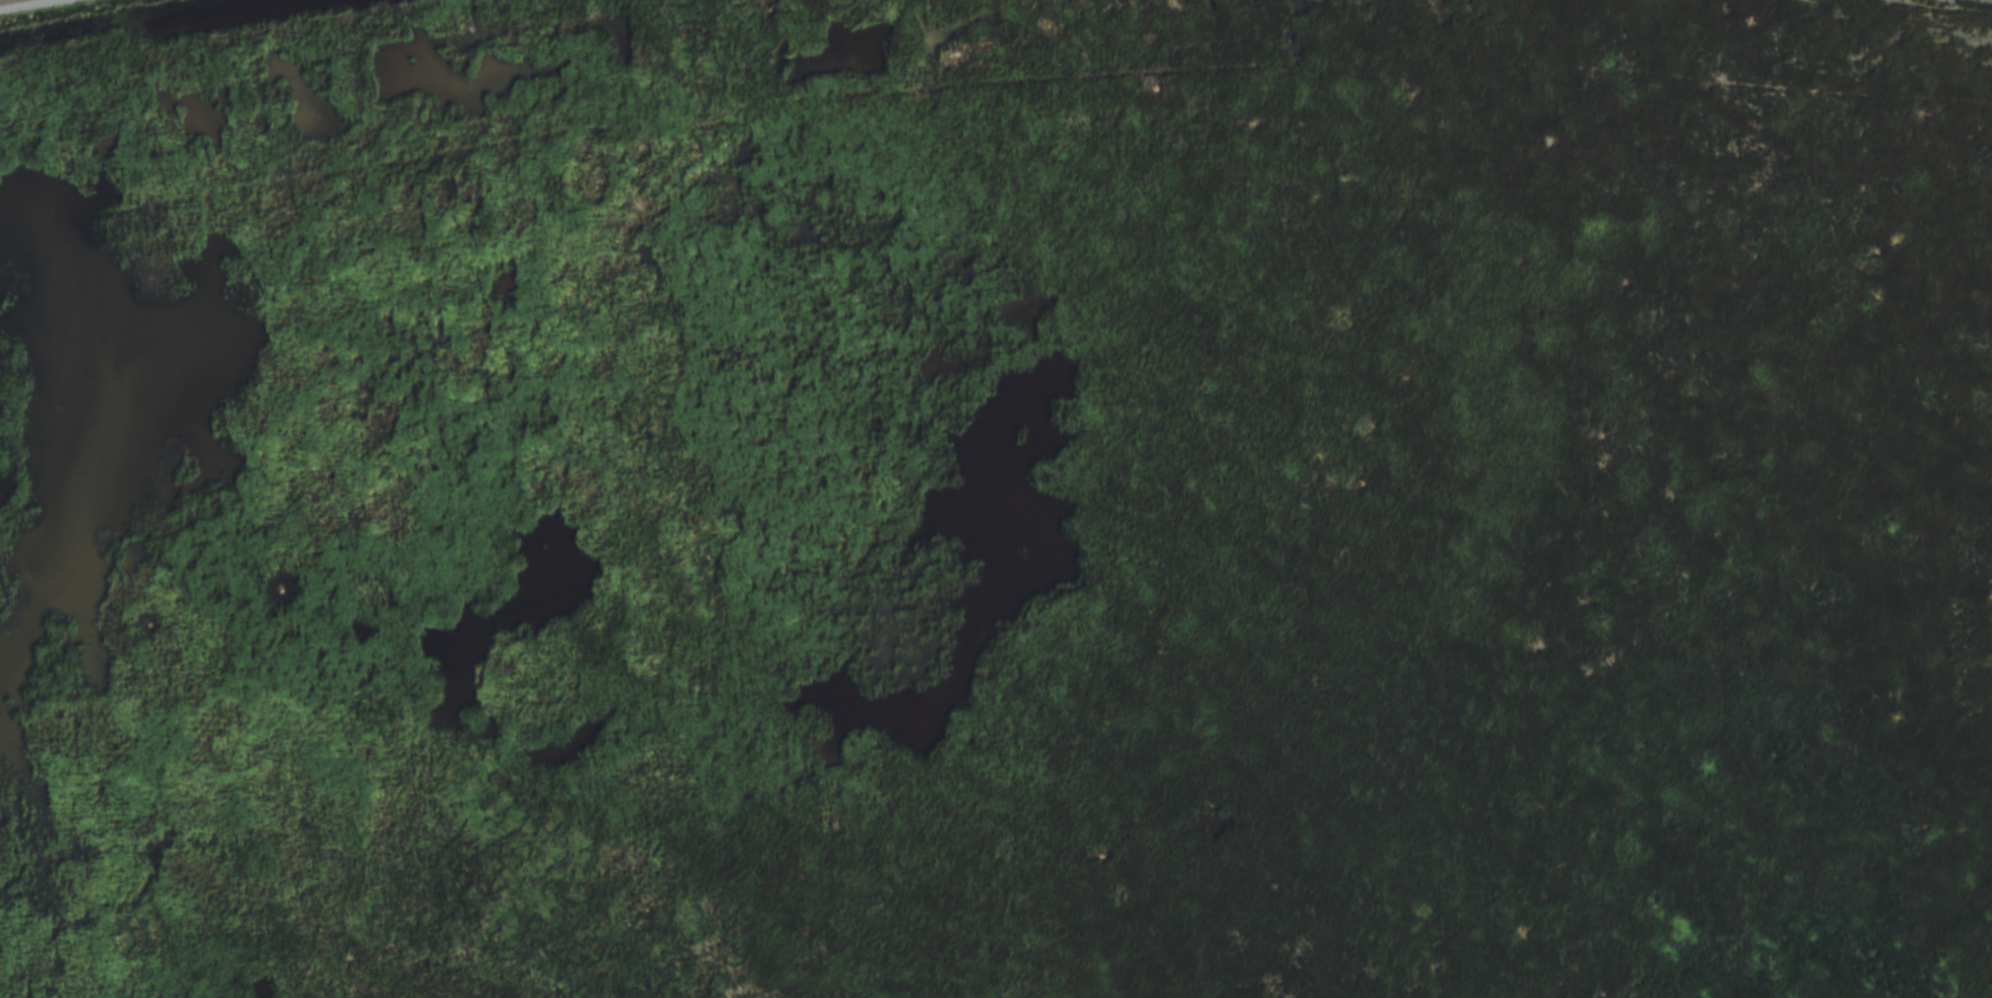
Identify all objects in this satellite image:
river: (155, 836)

